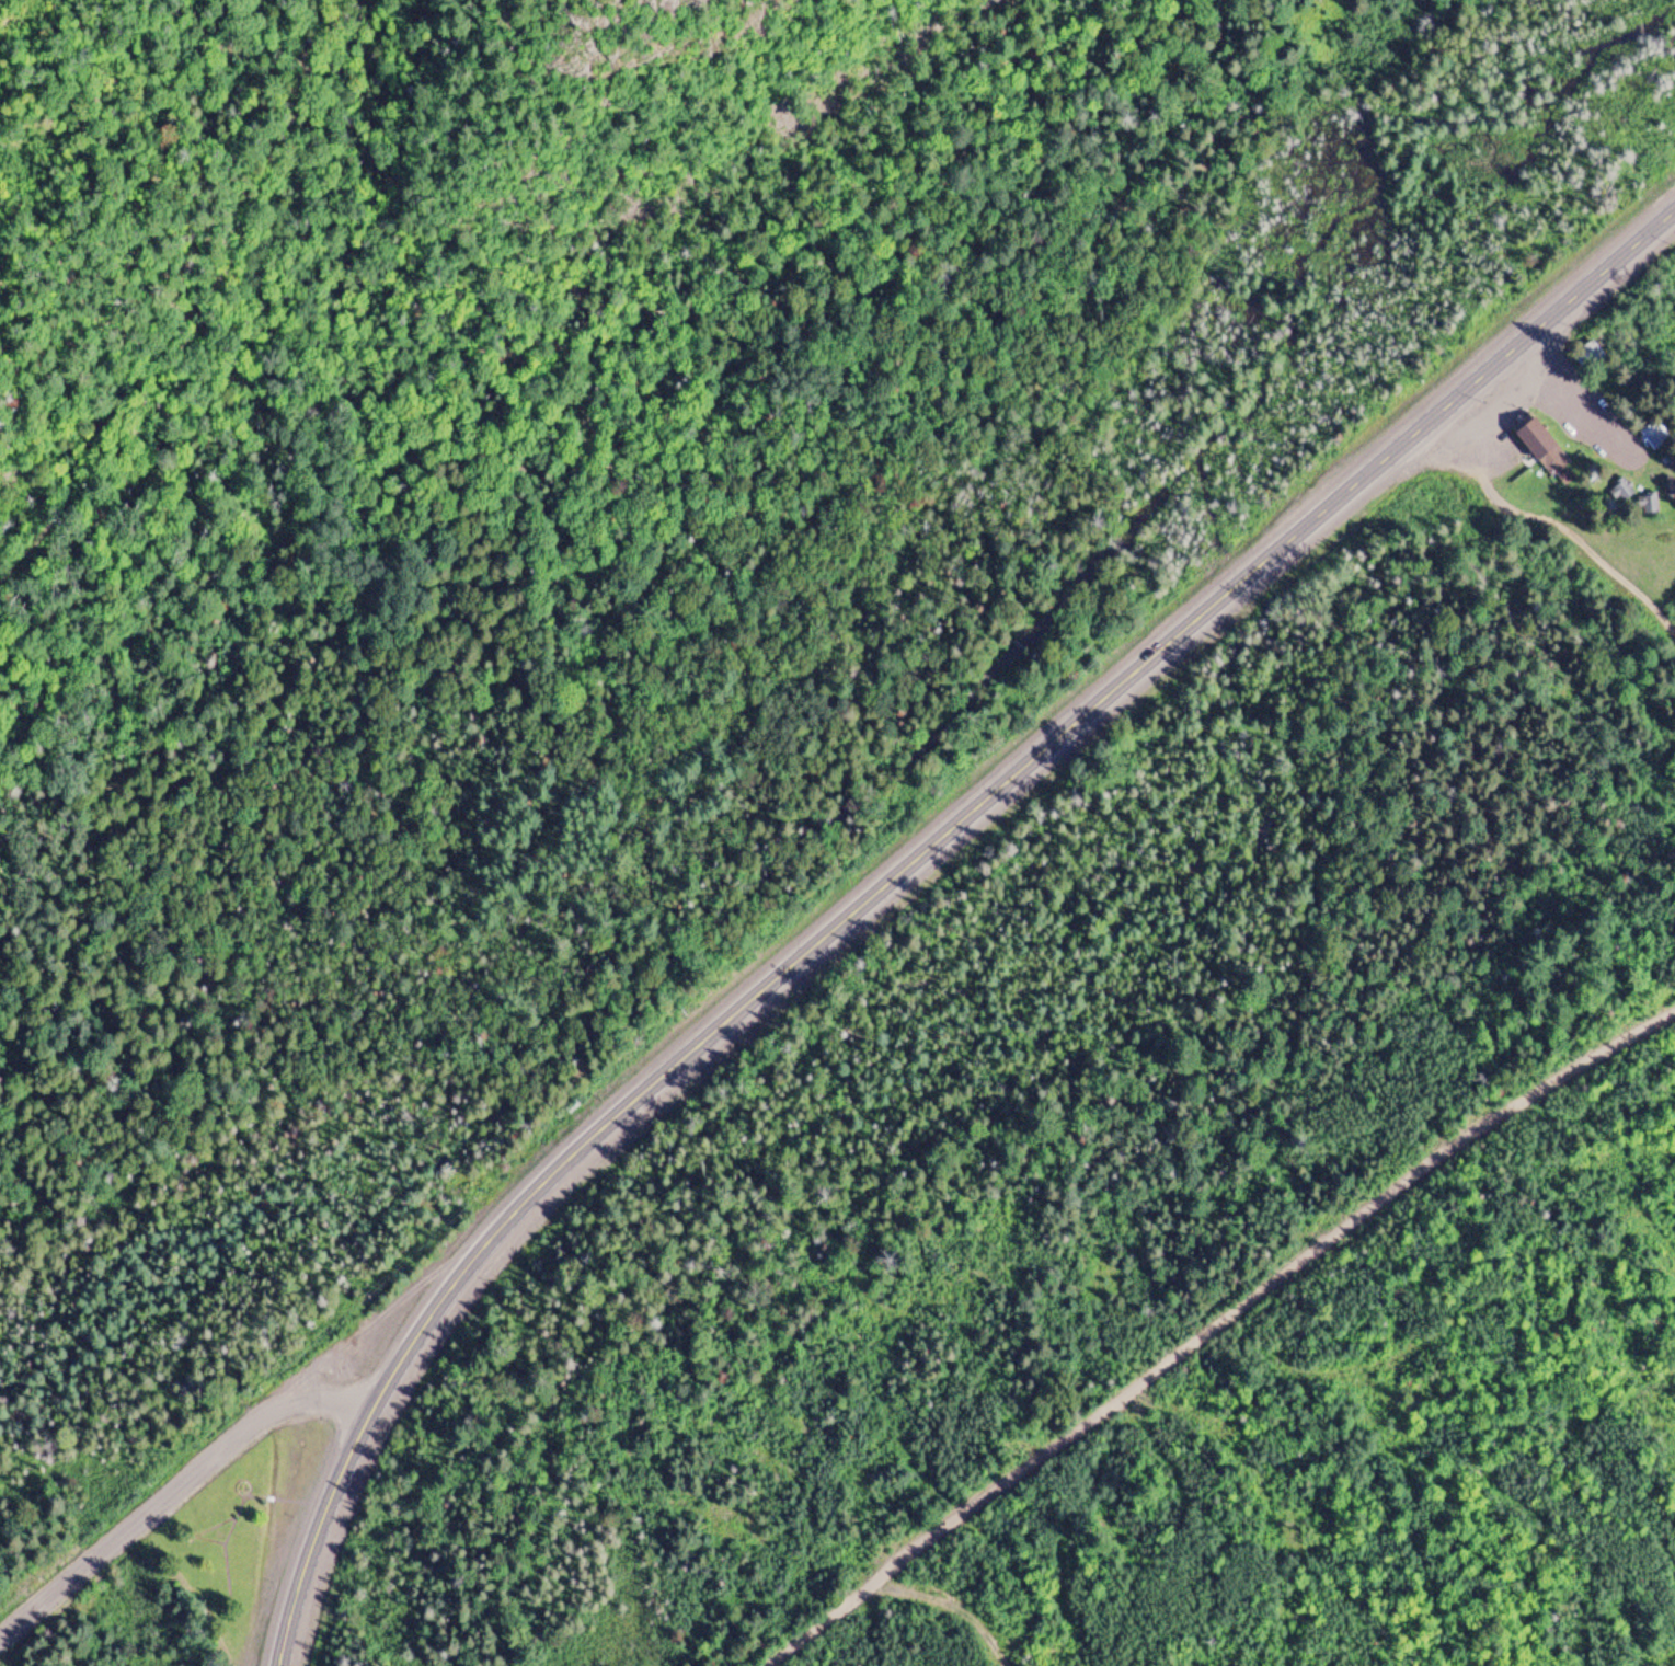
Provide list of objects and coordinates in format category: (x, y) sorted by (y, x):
river: (1372, 177)
road: (197, 300)
building: (1539, 440)
building: (1620, 490)
road: (895, 876)
river: (639, 985)
road: (1220, 1336)
road: (175, 1487)
park: (242, 1535)

